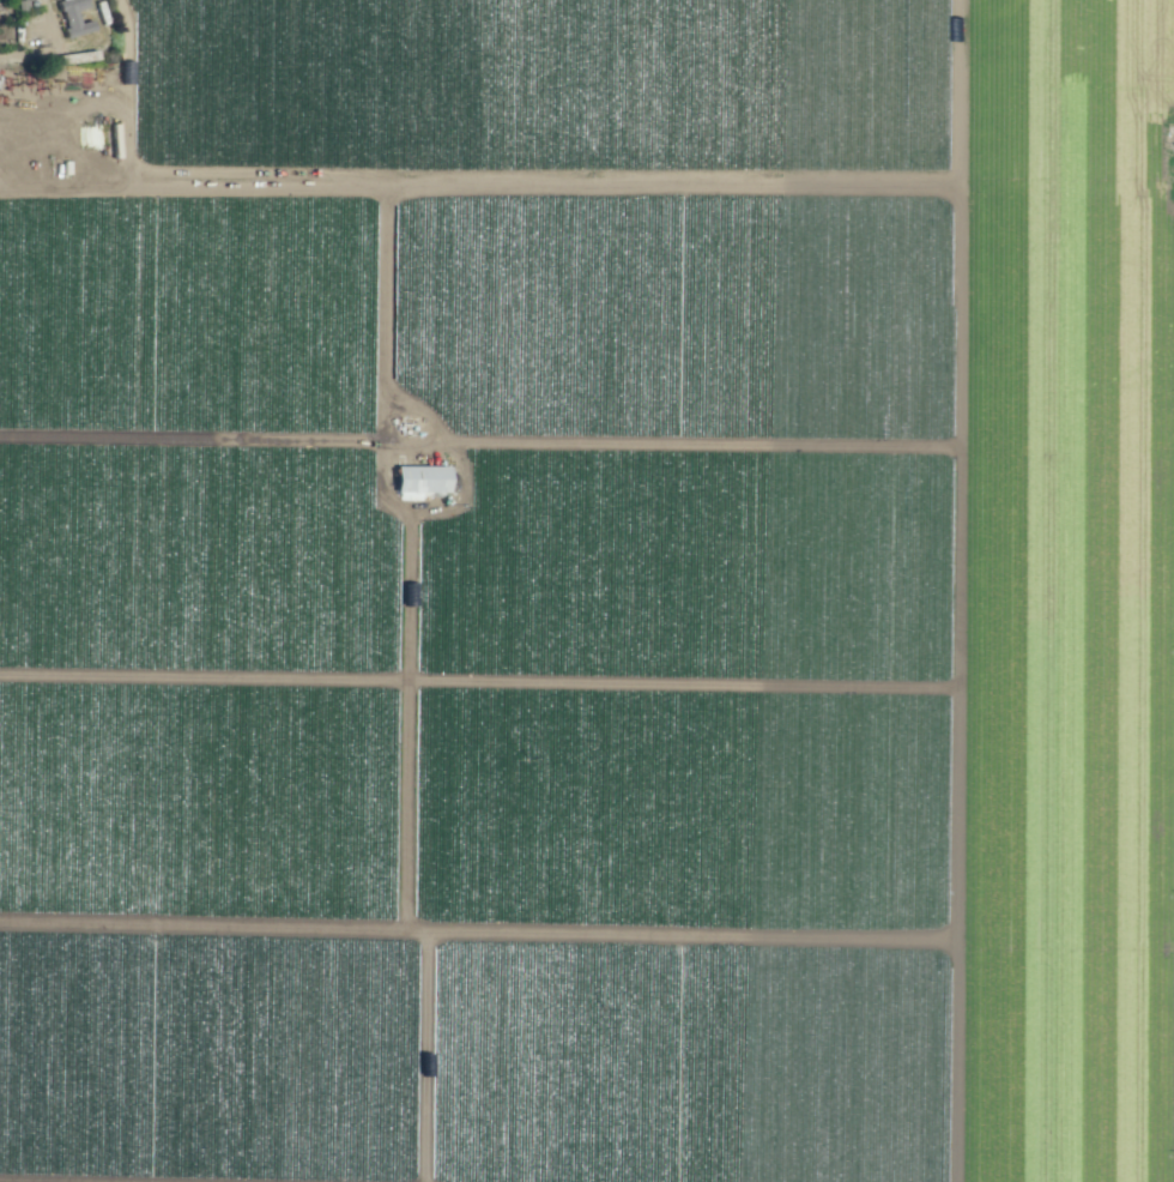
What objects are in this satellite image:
building: (72, 17)
road: (50, 99)
road: (101, 186)
road: (973, 253)
road: (382, 337)
building: (419, 478)
crop: (587, 591)
road: (483, 937)

